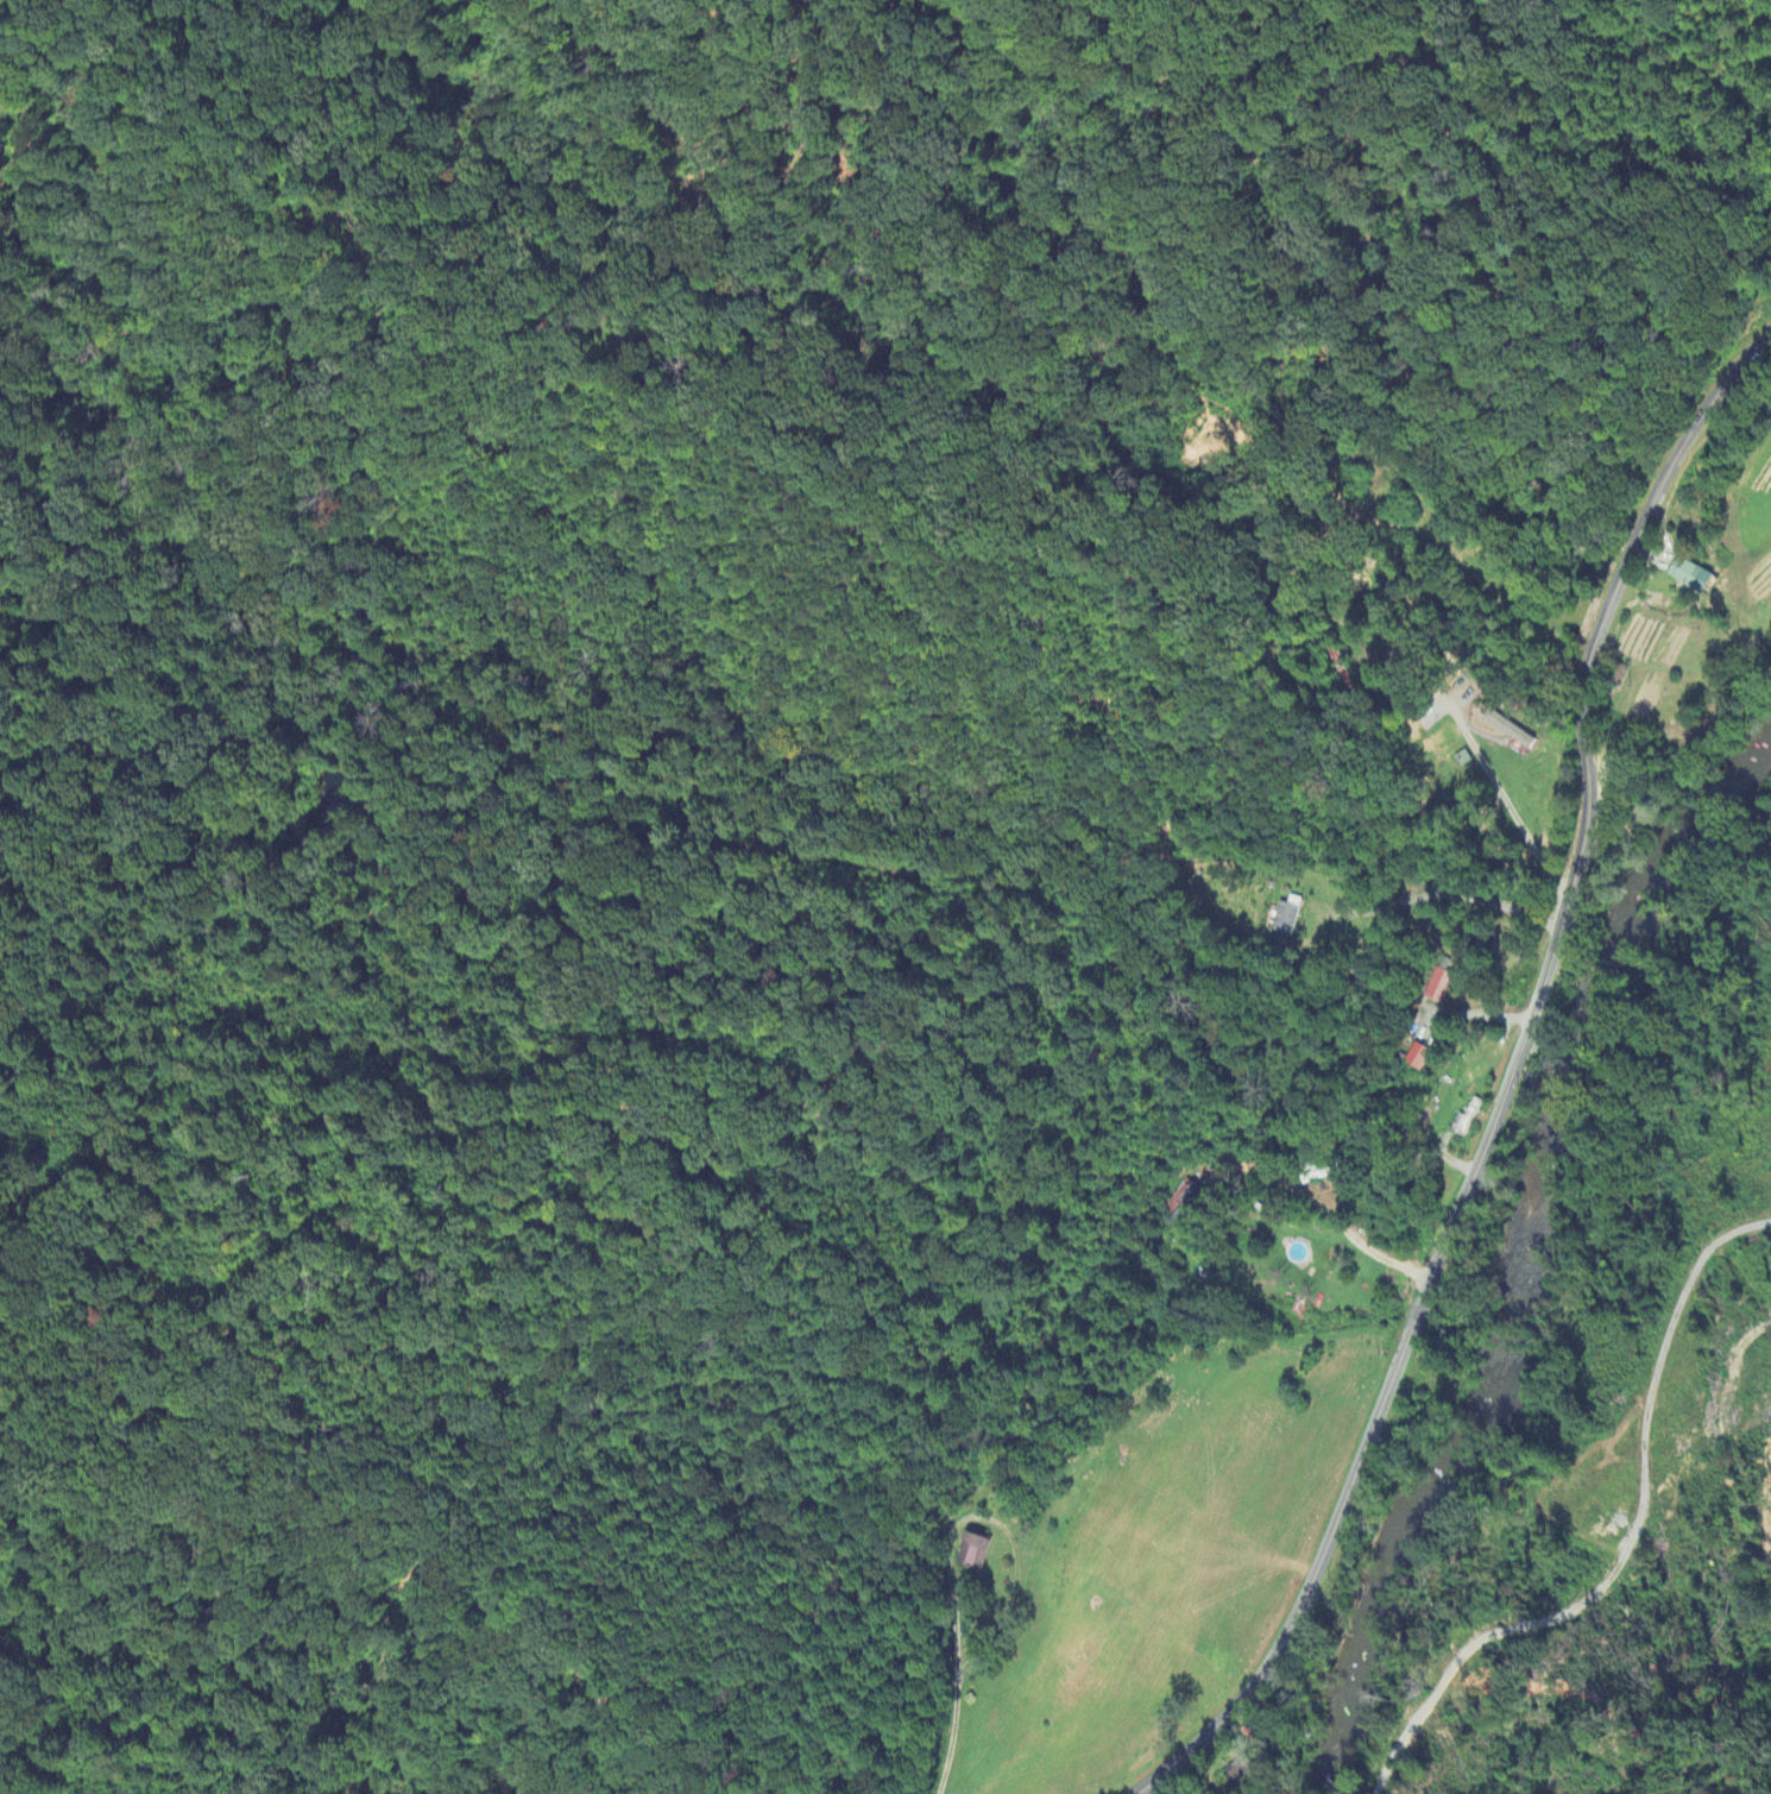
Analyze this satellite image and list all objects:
road: (1447, 537)
road: (1370, 562)
building: (1688, 577)
road: (1449, 707)
building: (1507, 730)
building: (1284, 920)
building: (1439, 987)
building: (1418, 1058)
road: (1507, 1083)
building: (1185, 1190)
road: (1331, 1215)
river: (1502, 1242)
road: (987, 1519)
road: (339, 1540)
road: (1634, 1546)
building: (973, 1551)
road: (414, 1725)
road: (948, 1735)

